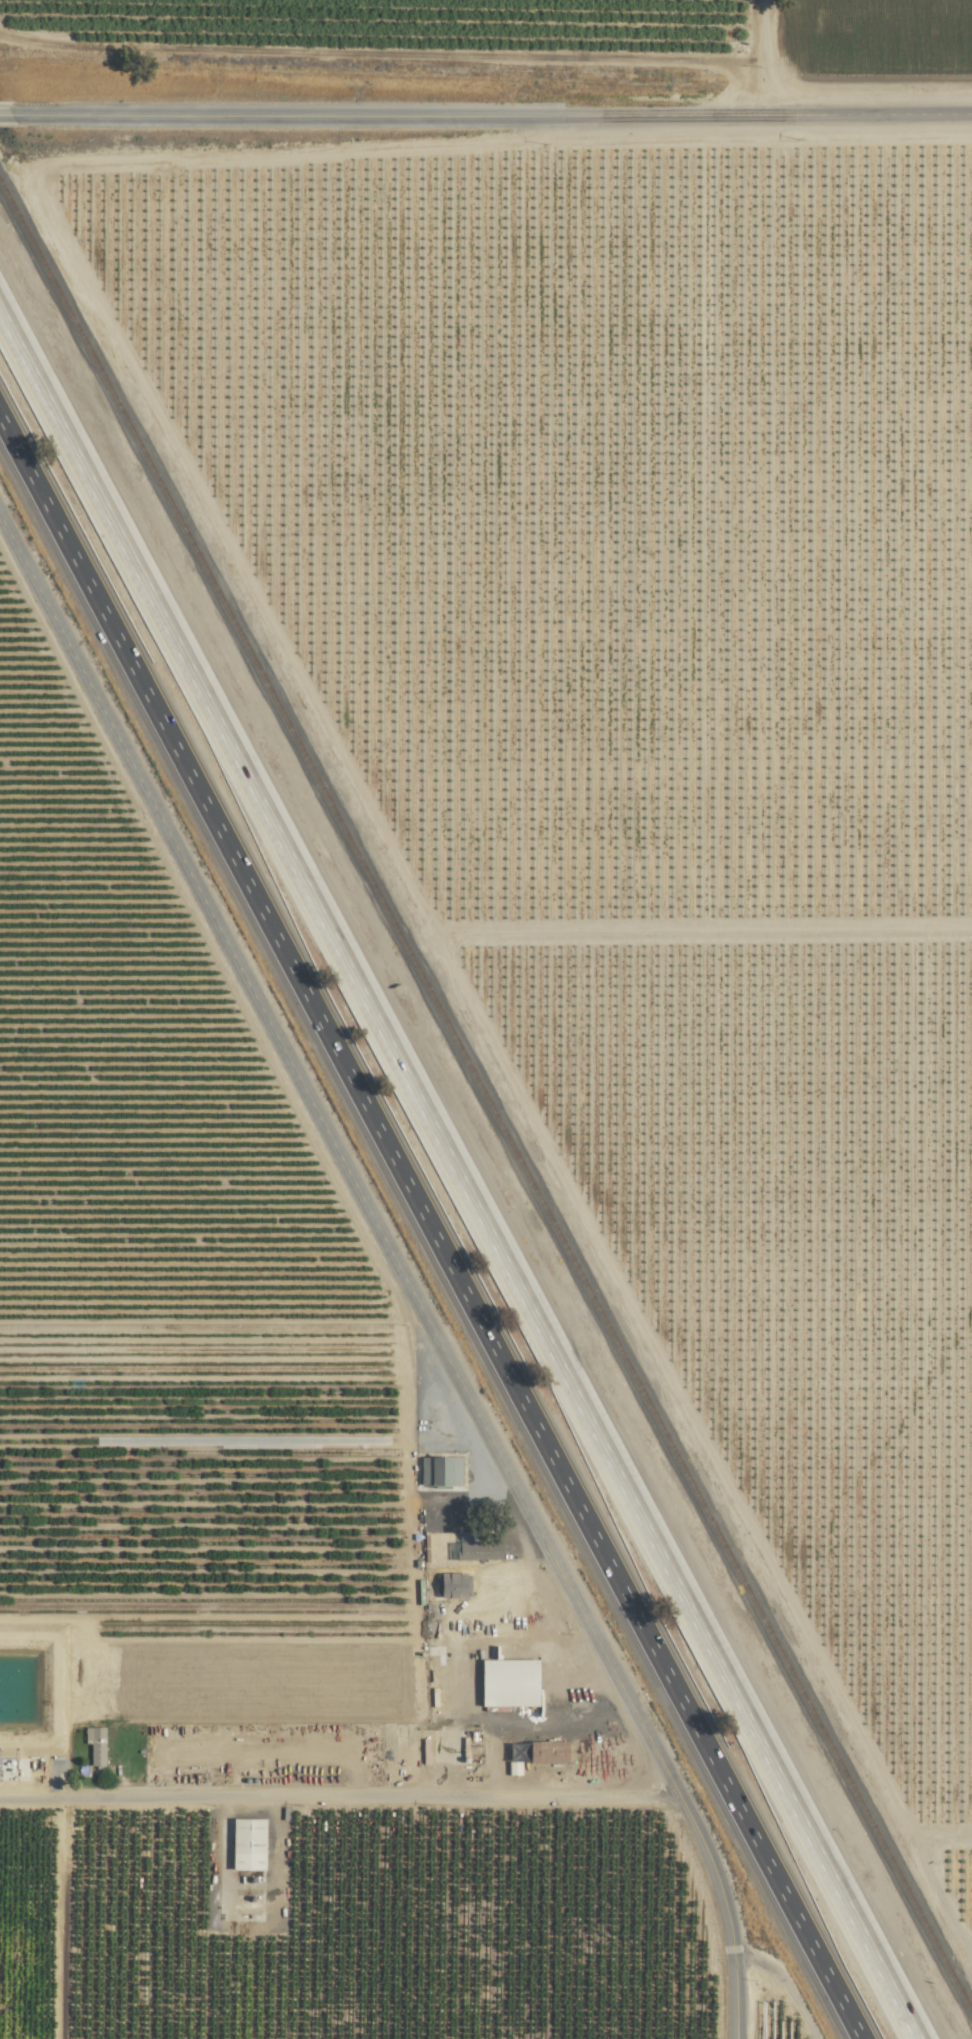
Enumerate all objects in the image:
road: (765, 57)
road: (3, 114)
road: (489, 114)
railway: (486, 1103)
road: (337, 1155)
road: (457, 1177)
road: (428, 1231)
building: (439, 1470)
crop: (286, 1513)
road: (486, 1555)
building: (454, 1584)
road: (458, 1660)
building: (514, 1681)
building: (98, 1744)
building: (552, 1751)
road: (340, 1791)
building: (251, 1843)
road: (727, 1909)
road: (61, 1916)

